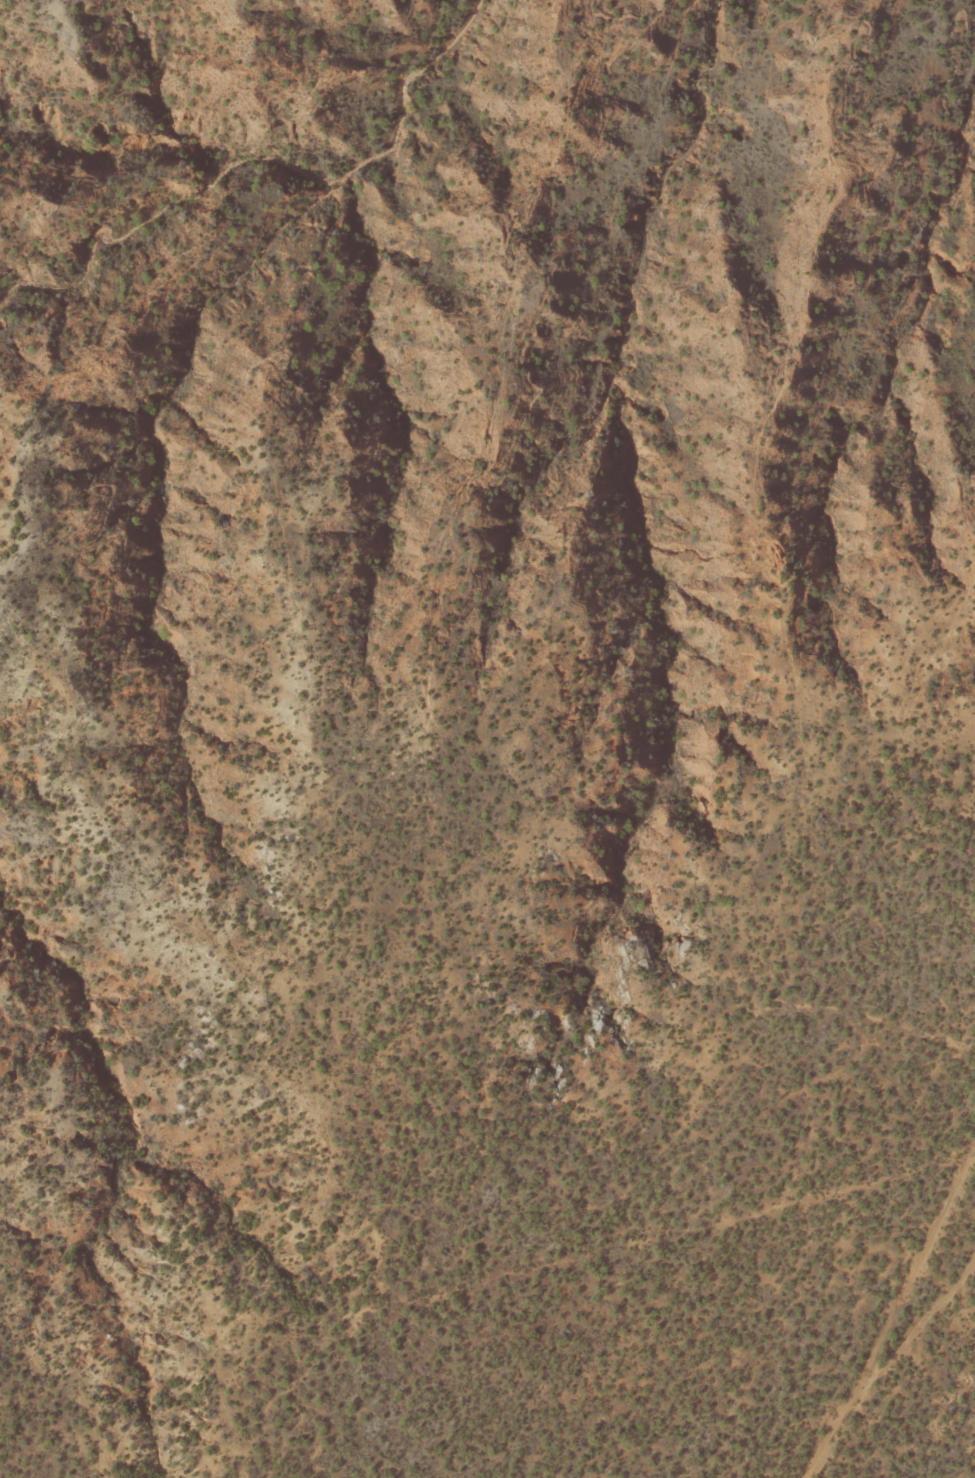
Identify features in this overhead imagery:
road: (865, 1266)

